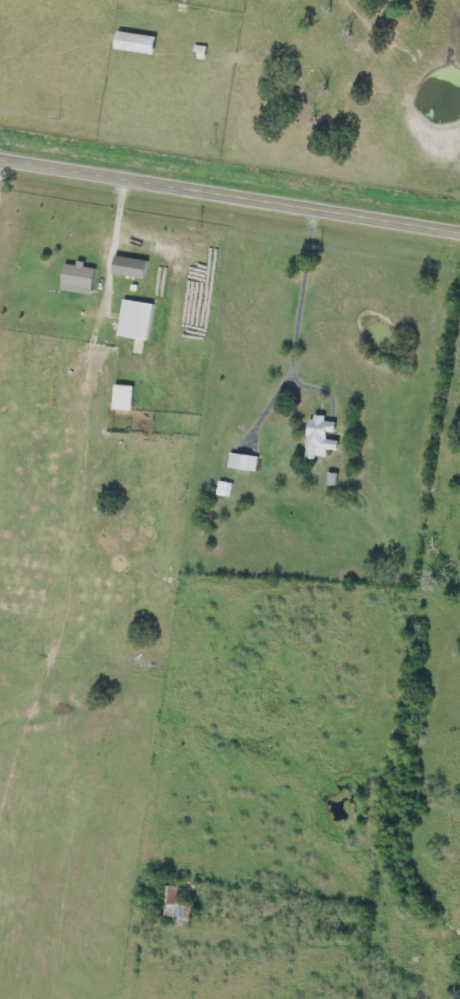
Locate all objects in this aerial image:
building: (138, 44)
road: (1, 180)
road: (229, 196)
building: (132, 267)
building: (80, 279)
building: (137, 320)
building: (124, 398)
building: (322, 437)
building: (244, 462)
building: (333, 479)
building: (226, 489)

